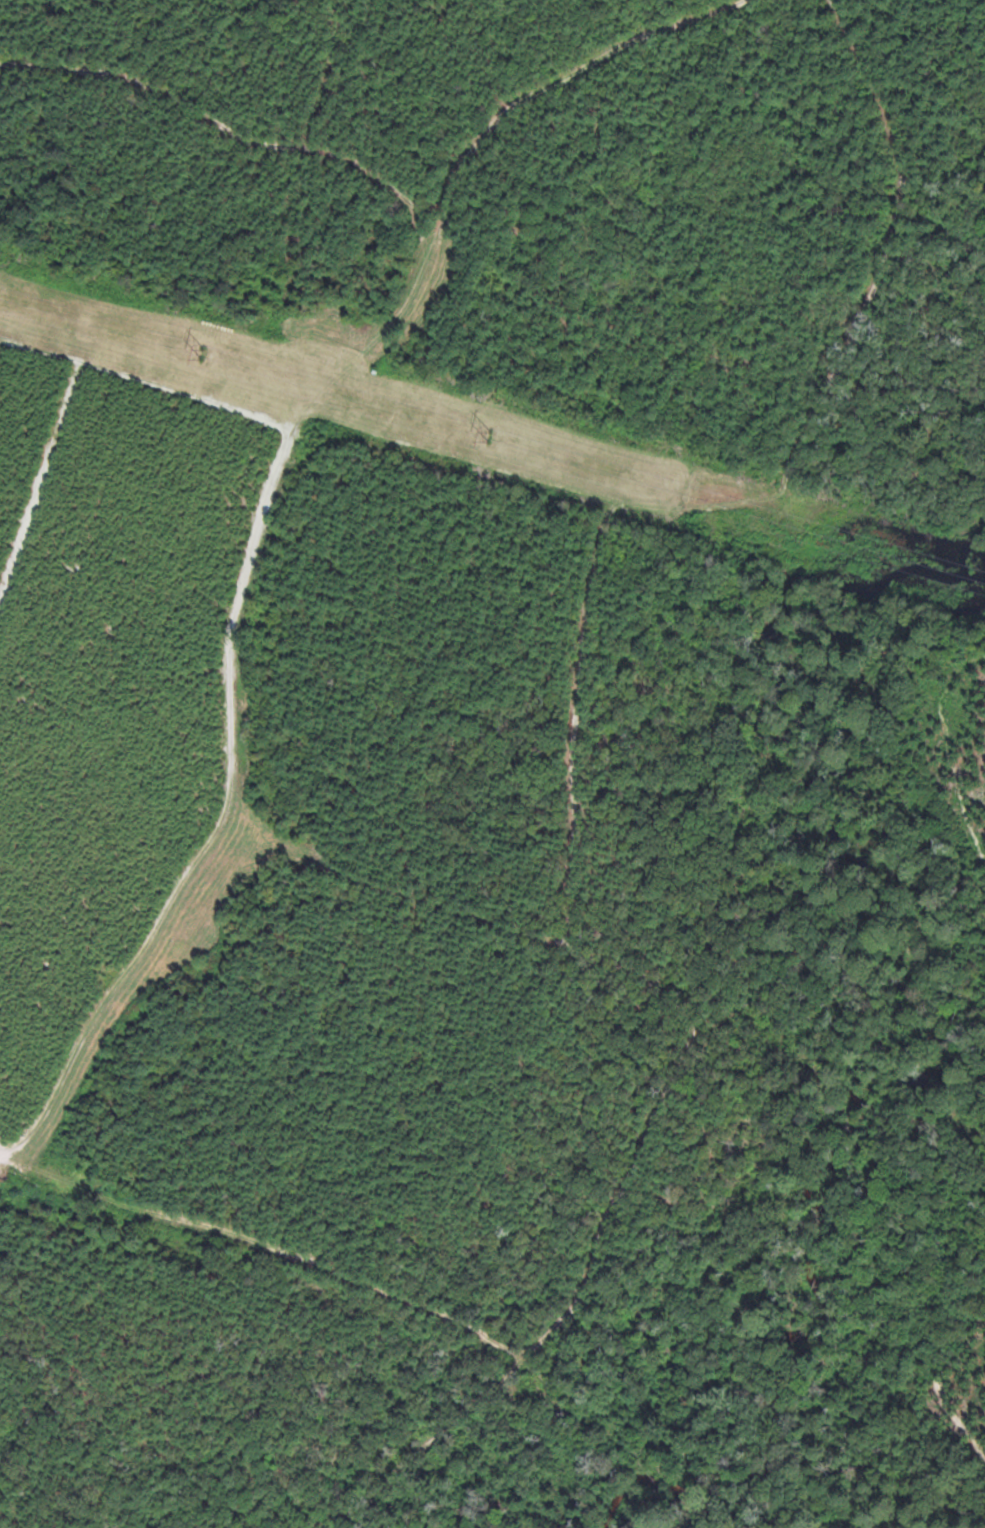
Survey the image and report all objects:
power tower: (205, 352)
power tower: (490, 434)

